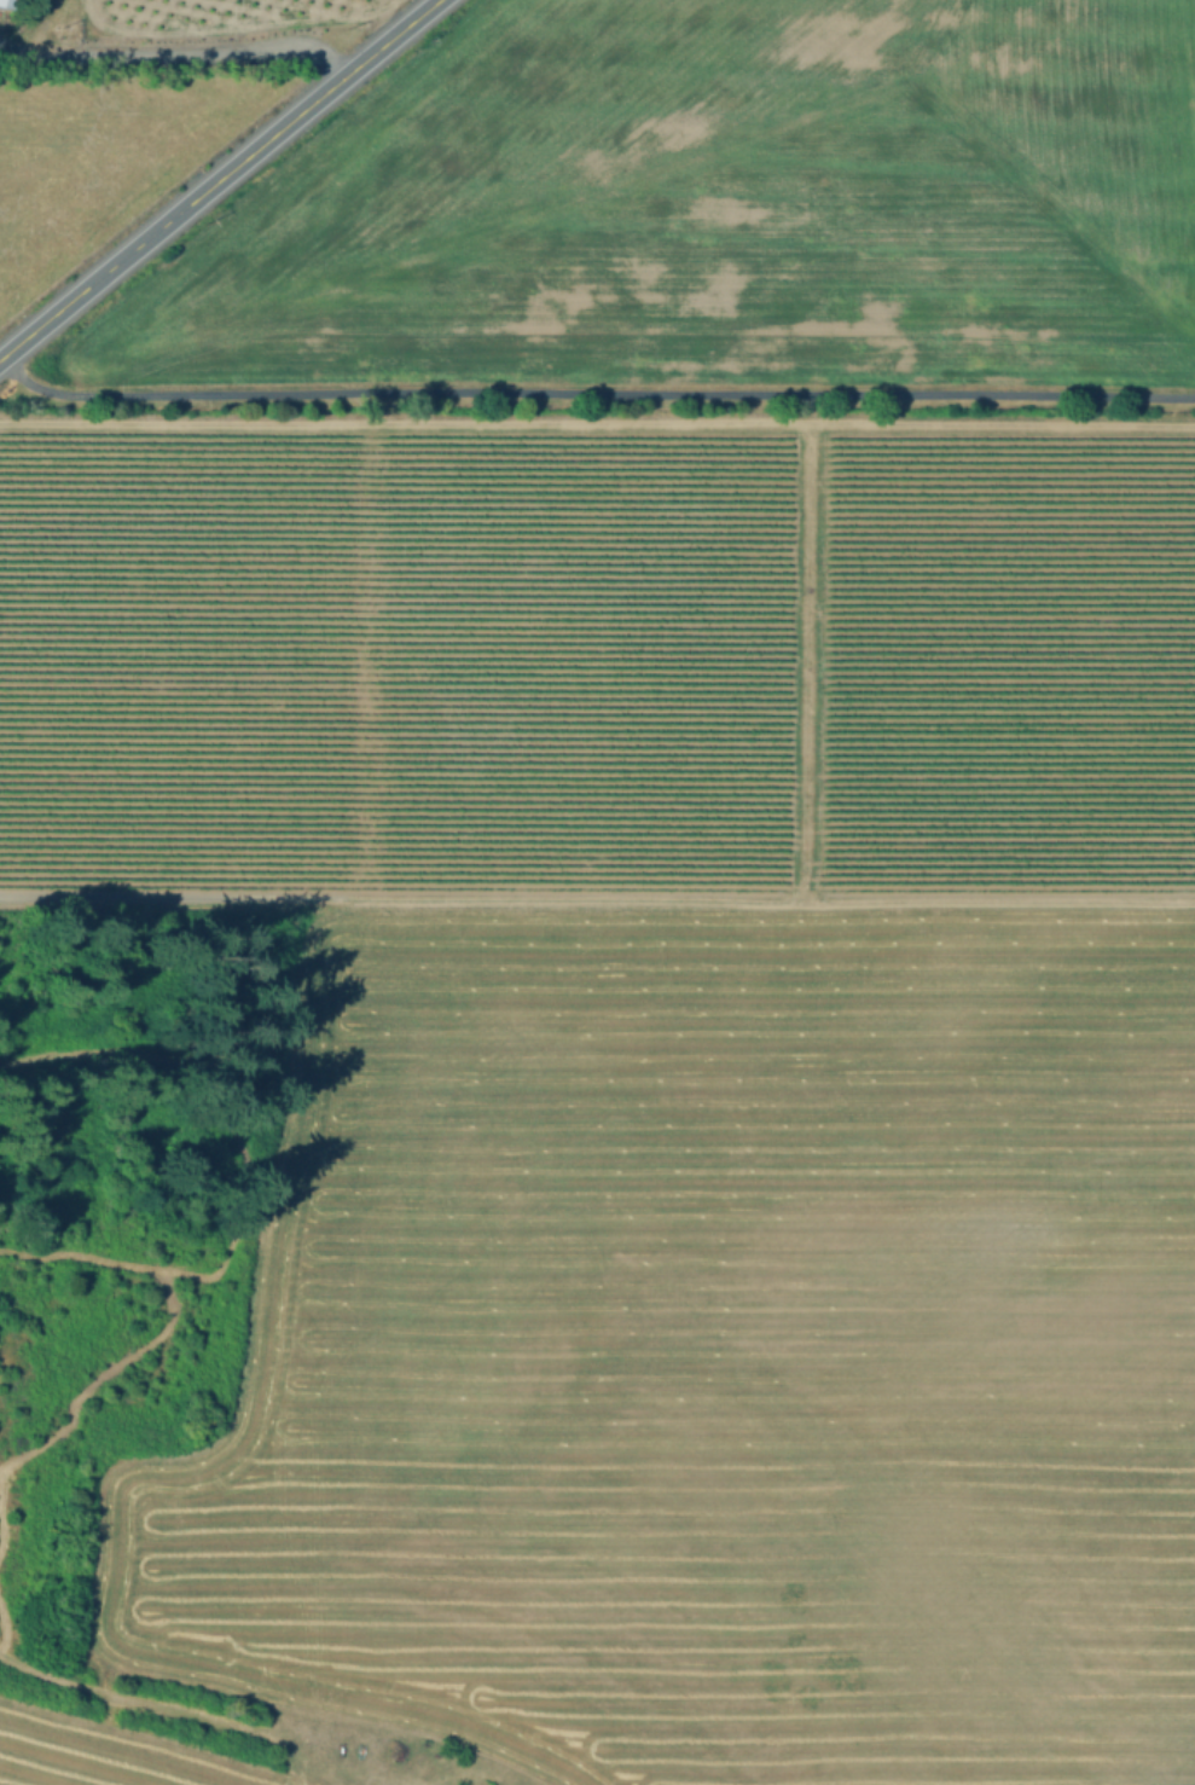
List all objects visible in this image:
building: (10, 2)
road: (7, 44)
road: (178, 51)
road: (219, 179)
crop: (712, 204)
road: (591, 400)
road: (597, 423)
road: (804, 660)
road: (597, 894)
crop: (710, 1349)
road: (127, 1697)
crop: (114, 1752)

